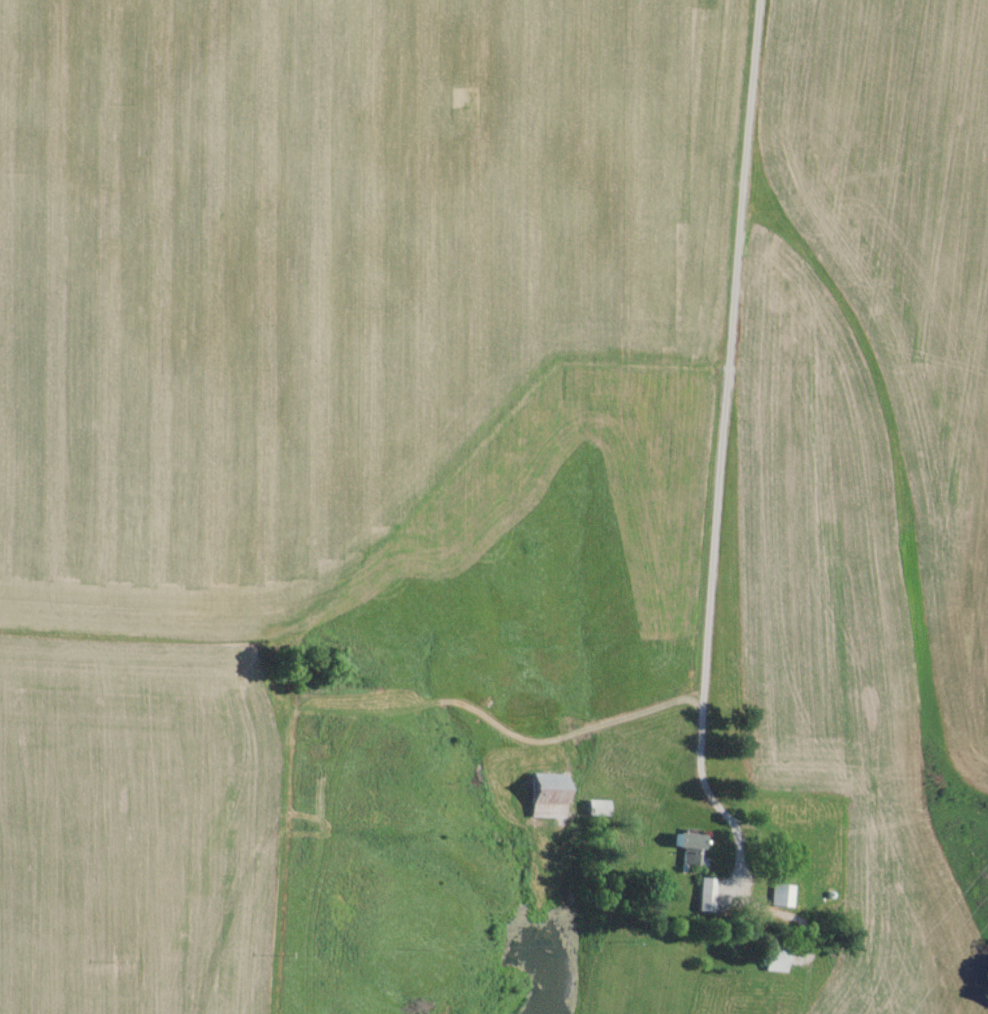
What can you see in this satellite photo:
road: (723, 456)
building: (594, 806)
building: (684, 846)
building: (702, 893)
building: (777, 894)

